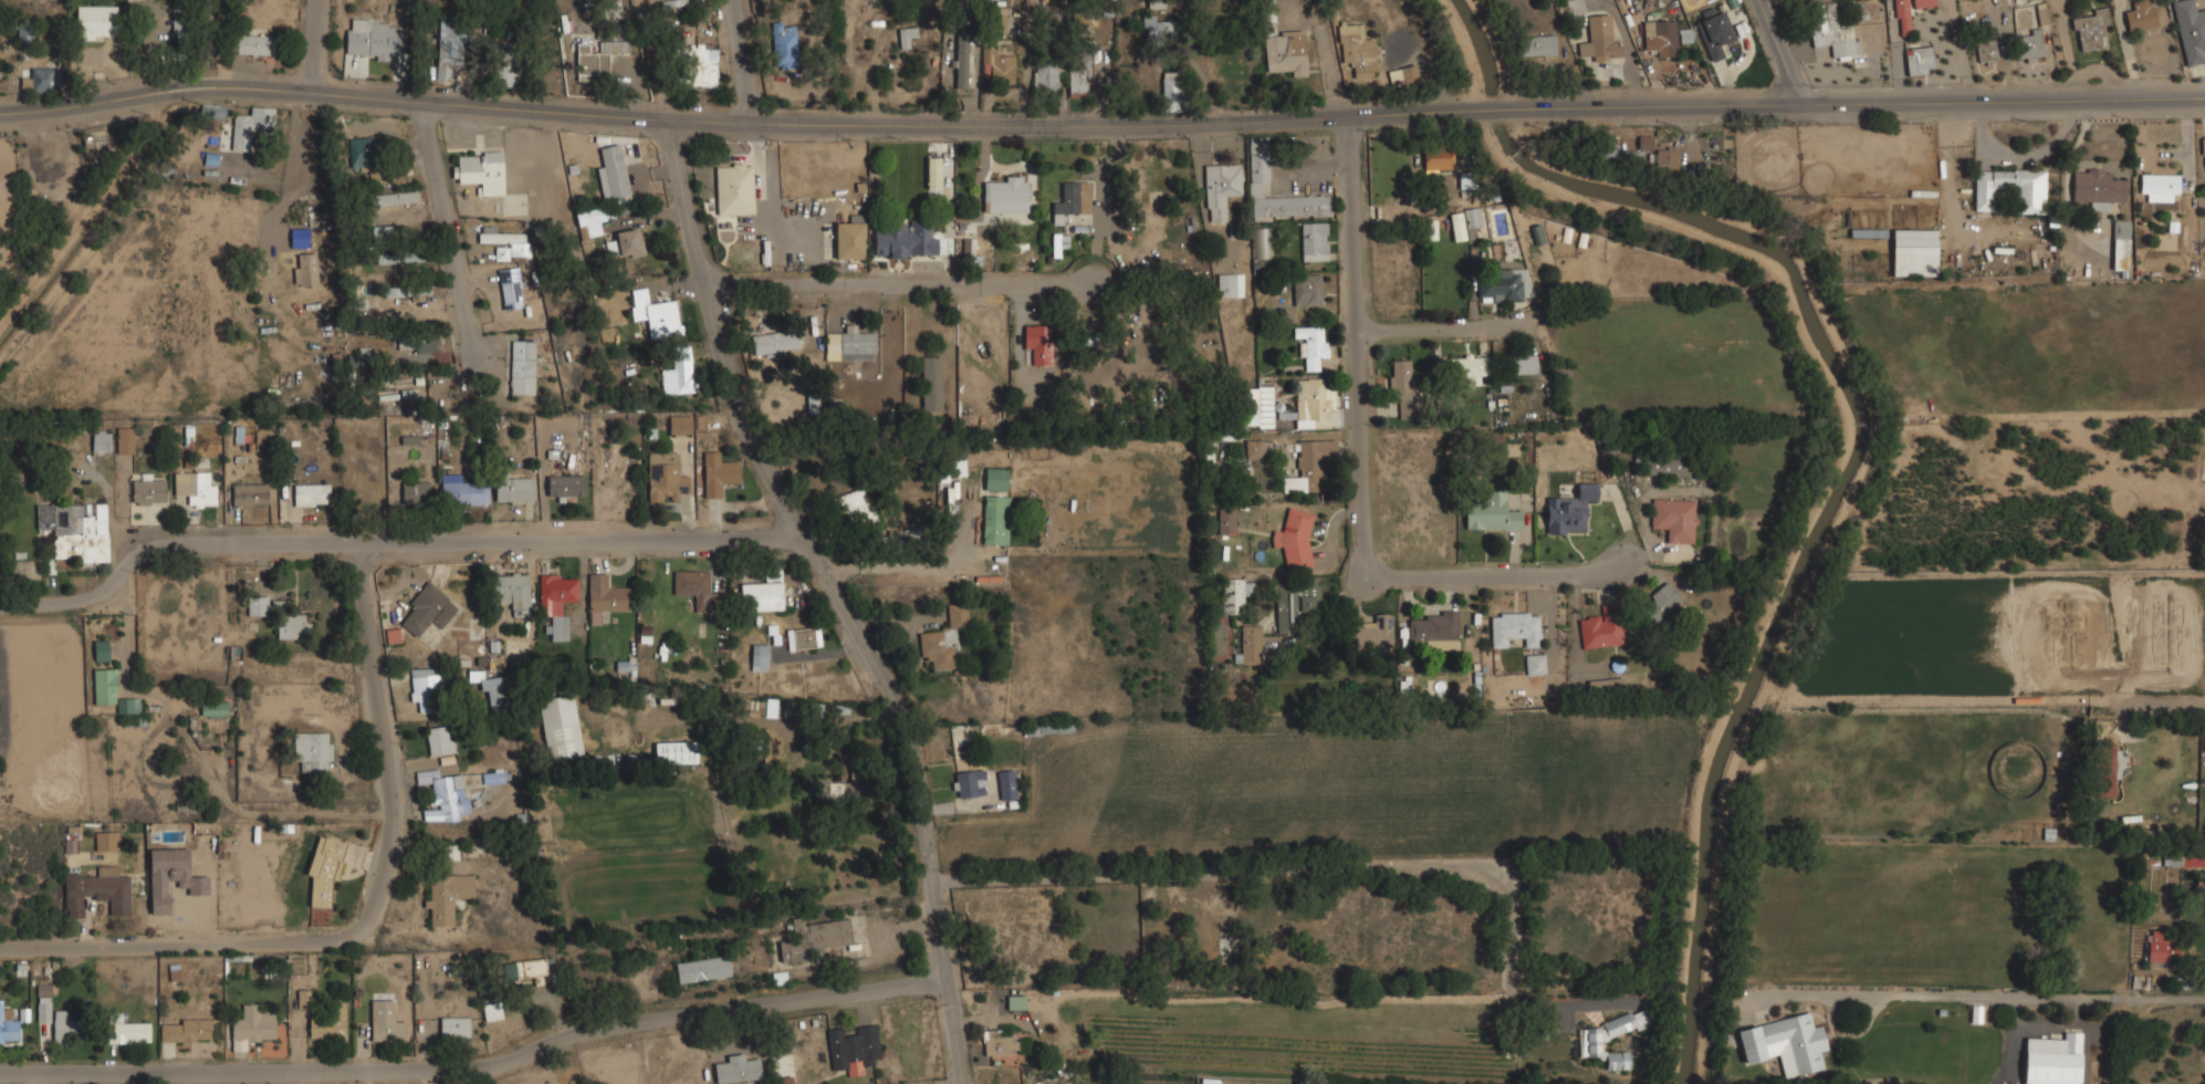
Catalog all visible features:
building: (1156, 3)
building: (1906, 13)
building: (2041, 14)
building: (995, 17)
building: (2140, 19)
building: (97, 21)
building: (185, 24)
building: (1157, 24)
building: (2090, 30)
building: (2191, 30)
building: (1830, 32)
building: (1715, 33)
building: (905, 35)
building: (1599, 38)
building: (1659, 38)
building: (373, 39)
road: (212, 44)
building: (255, 44)
road: (299, 45)
building: (1537, 45)
building: (449, 46)
building: (782, 46)
building: (2030, 46)
road: (1784, 48)
building: (1985, 49)
building: (1356, 50)
building: (1285, 53)
building: (595, 56)
building: (1919, 60)
road: (722, 62)
building: (505, 64)
building: (961, 67)
building: (997, 69)
building: (702, 70)
building: (1080, 73)
building: (1044, 75)
building: (1402, 75)
building: (42, 80)
building: (1171, 86)
road: (2004, 97)
road: (900, 123)
building: (244, 132)
building: (1645, 143)
building: (368, 155)
building: (1438, 158)
building: (2204, 159)
building: (1258, 160)
building: (1664, 160)
building: (614, 170)
building: (480, 171)
building: (932, 173)
building: (2159, 187)
building: (733, 188)
building: (2097, 188)
building: (2009, 189)
building: (1221, 190)
building: (1009, 195)
building: (395, 198)
building: (1072, 200)
building: (1472, 217)
building: (591, 223)
building: (1456, 227)
road: (446, 230)
building: (397, 233)
building: (849, 237)
building: (505, 239)
building: (901, 241)
building: (1314, 241)
building: (1261, 242)
building: (627, 243)
building: (969, 243)
building: (1059, 243)
building: (2120, 244)
building: (1914, 250)
building: (398, 258)
building: (305, 270)
road: (897, 284)
building: (1230, 284)
building: (1502, 284)
building: (510, 288)
building: (1307, 289)
building: (406, 291)
building: (356, 305)
building: (652, 312)
road: (1431, 322)
building: (774, 341)
building: (1036, 343)
building: (1313, 344)
building: (426, 345)
building: (856, 345)
building: (1519, 364)
building: (1467, 366)
building: (522, 367)
building: (678, 371)
building: (931, 383)
building: (1402, 386)
building: (1311, 403)
building: (1256, 407)
building: (679, 425)
building: (125, 440)
building: (101, 441)
building: (1254, 448)
building: (1664, 465)
building: (1309, 466)
building: (950, 469)
road: (1356, 472)
building: (717, 475)
building: (665, 478)
building: (995, 479)
building: (565, 486)
building: (194, 489)
building: (513, 489)
building: (461, 490)
building: (147, 491)
building: (415, 491)
building: (249, 494)
building: (311, 494)
building: (851, 509)
building: (1569, 510)
building: (1490, 512)
building: (1673, 519)
building: (994, 521)
building: (1225, 521)
building: (75, 531)
building: (1294, 540)
road: (386, 541)
building: (696, 588)
building: (510, 592)
building: (762, 593)
building: (1233, 596)
building: (605, 597)
road: (832, 597)
building: (556, 602)
building: (1295, 603)
building: (1659, 603)
building: (258, 606)
building: (427, 609)
building: (292, 626)
building: (1514, 627)
building: (1433, 629)
building: (1601, 630)
building: (1370, 632)
building: (393, 634)
building: (803, 638)
road: (365, 639)
building: (943, 639)
building: (1248, 645)
building: (100, 649)
building: (760, 657)
building: (1535, 664)
building: (425, 684)
building: (1606, 686)
building: (492, 689)
building: (111, 690)
building: (770, 707)
road: (2161, 707)
building: (213, 708)
building: (560, 728)
building: (1055, 729)
building: (439, 740)
building: (2204, 743)
building: (312, 751)
building: (675, 753)
building: (2105, 757)
building: (491, 778)
building: (965, 783)
building: (1005, 784)
building: (843, 785)
building: (443, 795)
building: (105, 843)
building: (2183, 862)
building: (324, 871)
building: (106, 888)
building: (447, 896)
building: (814, 938)
road: (282, 940)
building: (1011, 941)
building: (2160, 948)
building: (531, 969)
building: (702, 969)
building: (174, 974)
road: (1977, 997)
building: (1015, 1002)
building: (492, 1011)
building: (55, 1017)
building: (385, 1022)
building: (328, 1024)
building: (7, 1026)
building: (250, 1026)
building: (453, 1028)
building: (128, 1031)
building: (184, 1031)
building: (1590, 1042)
building: (999, 1043)
building: (1785, 1043)
building: (853, 1049)
building: (2052, 1060)
road: (477, 1064)
building: (738, 1069)
building: (783, 1080)

